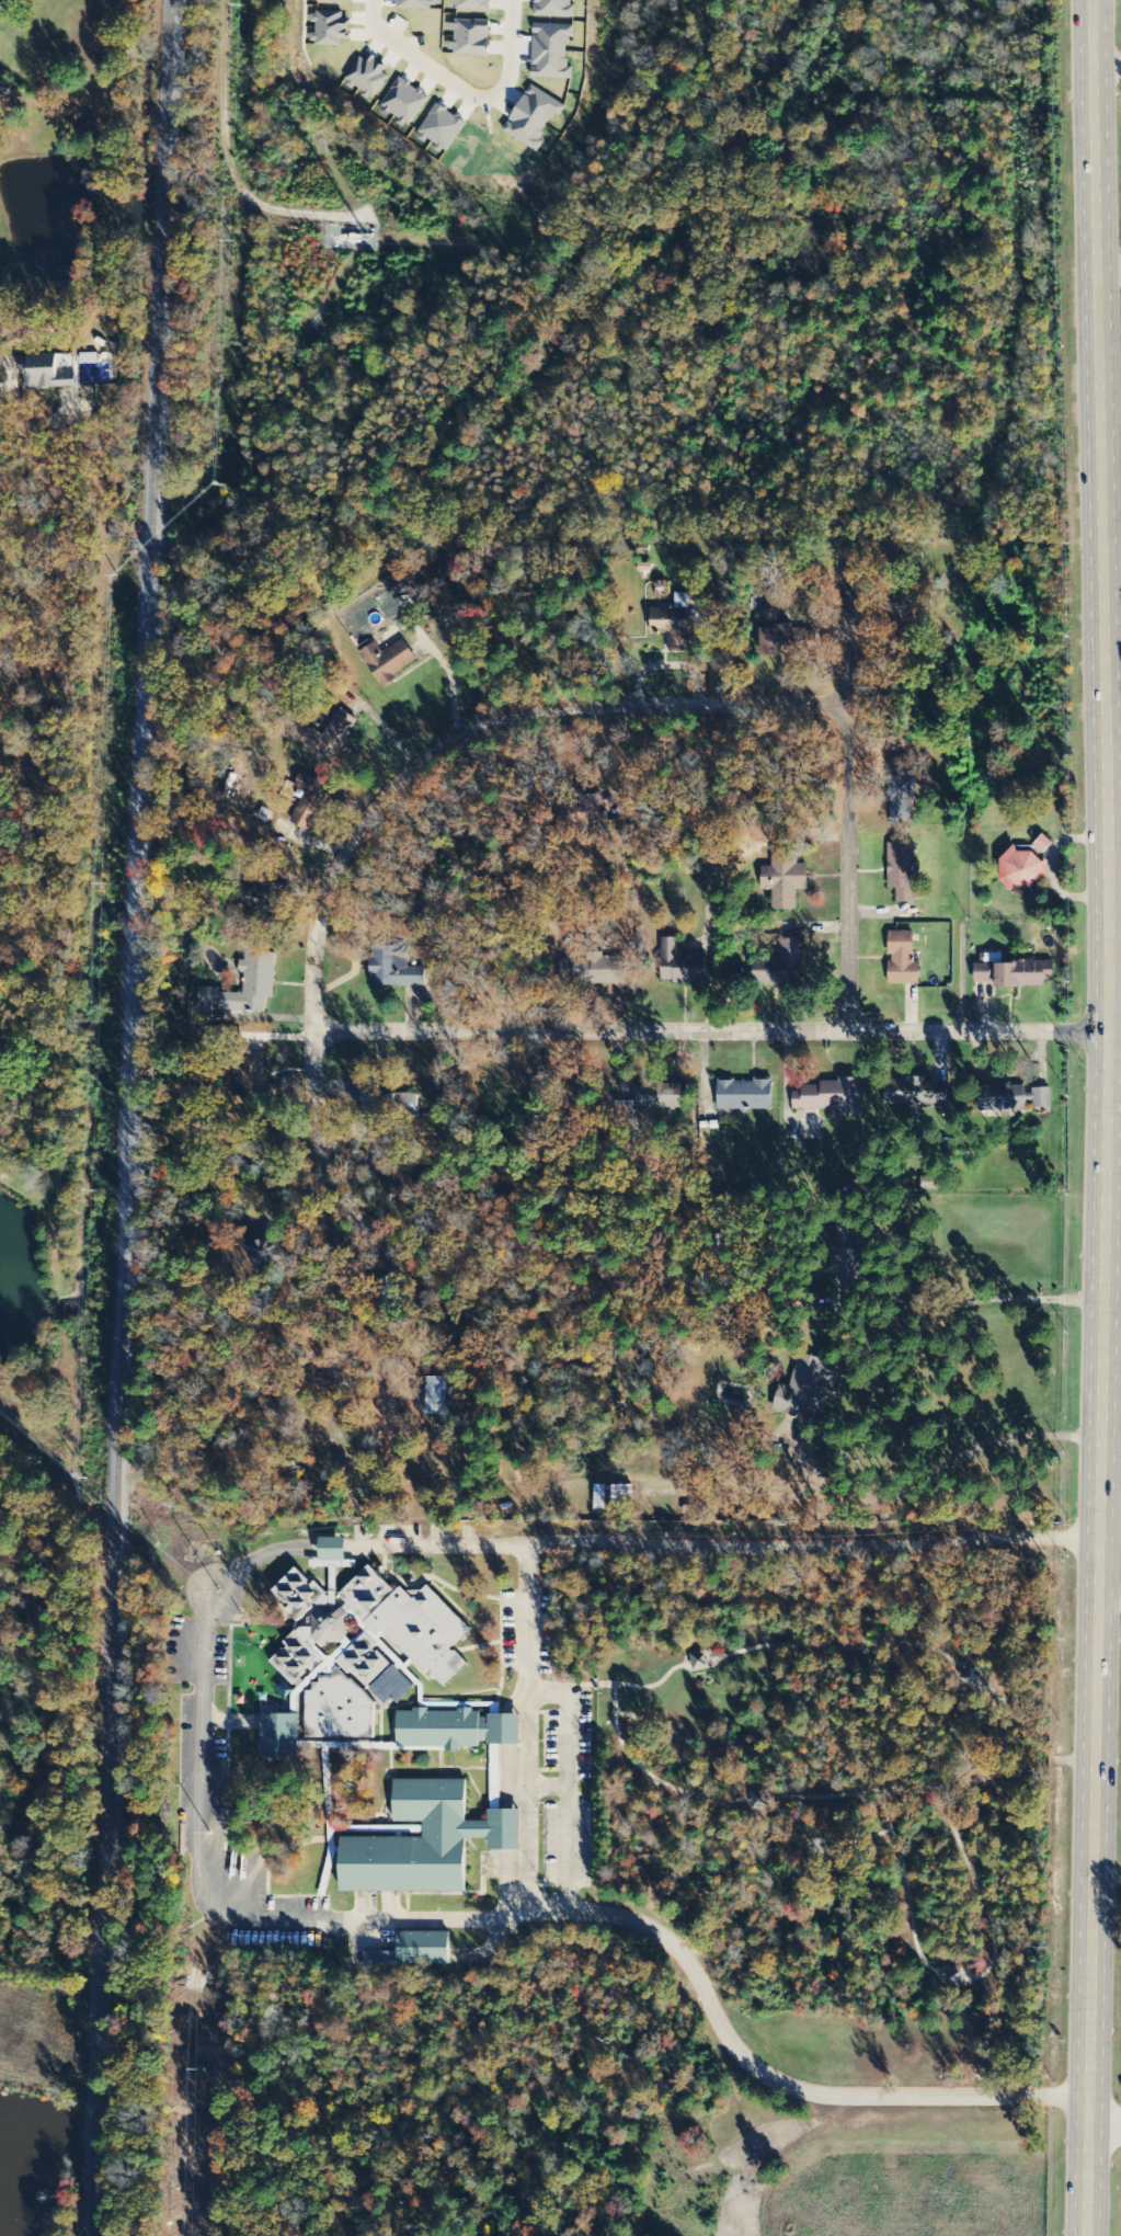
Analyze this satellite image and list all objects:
building: (473, 5)
building: (556, 9)
building: (471, 37)
building: (552, 52)
road: (464, 91)
building: (534, 117)
road: (1108, 269)
building: (90, 360)
building: (47, 374)
building: (674, 623)
building: (780, 636)
building: (388, 661)
building: (335, 734)
road: (444, 751)
building: (902, 789)
road: (849, 795)
building: (311, 803)
building: (1043, 844)
building: (1020, 868)
building: (902, 870)
building: (786, 879)
building: (270, 901)
building: (903, 959)
building: (682, 963)
building: (394, 967)
building: (781, 967)
building: (596, 969)
building: (1016, 973)
building: (248, 986)
road: (711, 1034)
building: (252, 1073)
building: (916, 1092)
building: (746, 1095)
building: (661, 1096)
building: (832, 1096)
building: (1015, 1097)
building: (386, 1106)
railway: (134, 1117)
road: (1105, 1118)
building: (849, 1256)
building: (384, 1291)
building: (807, 1387)
building: (435, 1395)
building: (614, 1497)
building: (331, 1553)
road: (1109, 1605)
building: (363, 1647)
building: (392, 1687)
building: (456, 1730)
building: (281, 1736)
road: (211, 1741)
road: (527, 1762)
building: (426, 1843)
building: (415, 1951)
road: (1103, 2125)

